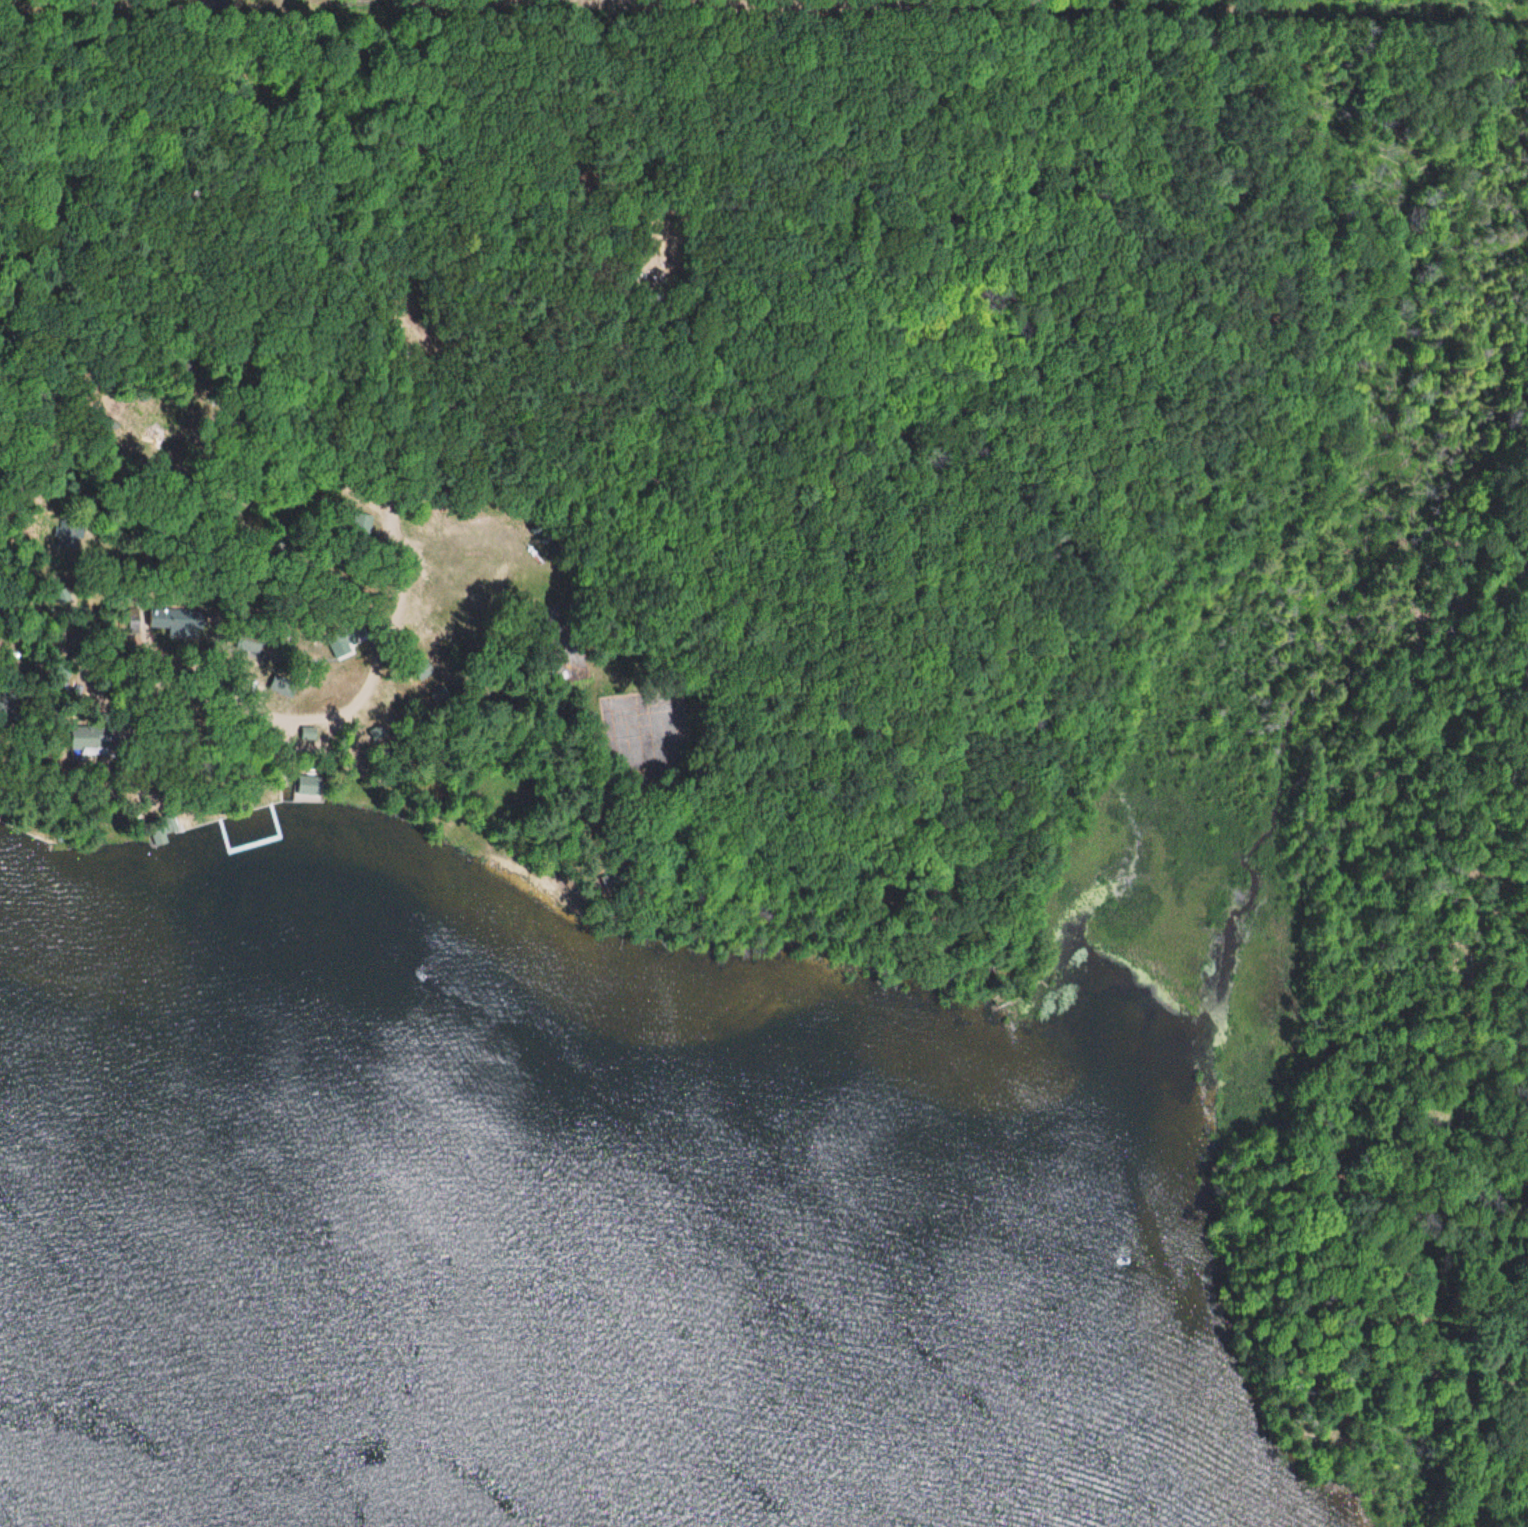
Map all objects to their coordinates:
road: (558, 235)
road: (3, 263)
road: (119, 578)
building: (171, 622)
building: (91, 739)
building: (307, 785)
road: (1361, 1303)

